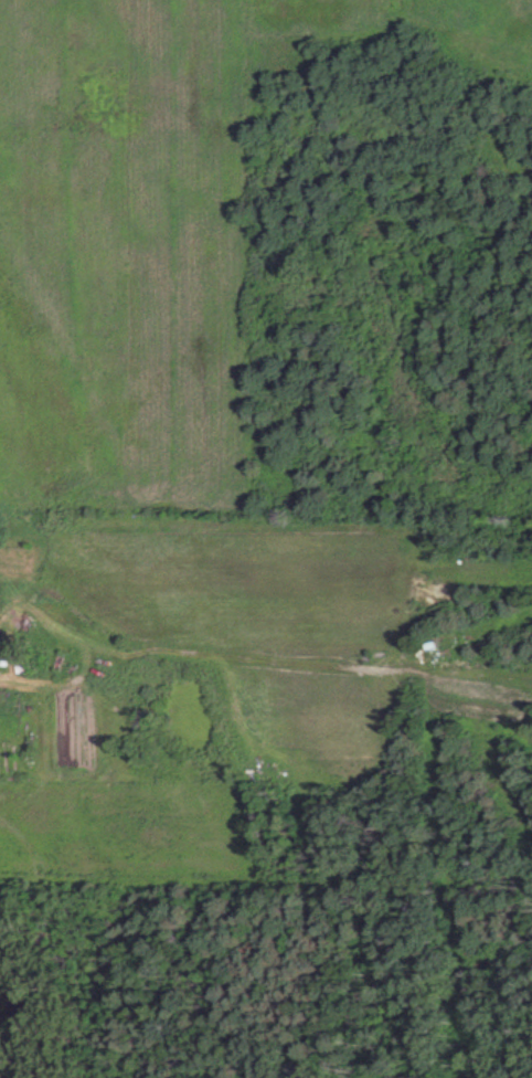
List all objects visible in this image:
building: (2, 655)

